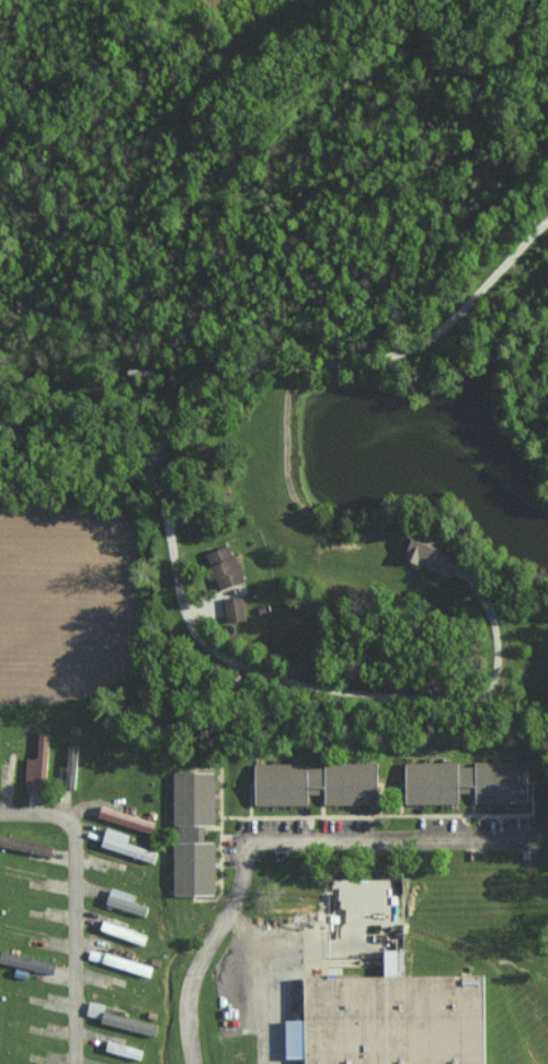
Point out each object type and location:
road: (269, 364)
building: (423, 552)
building: (219, 566)
building: (231, 609)
road: (294, 684)
building: (34, 765)
building: (68, 766)
building: (463, 782)
building: (308, 783)
building: (123, 818)
parking lot: (502, 824)
parking lot: (443, 825)
parking lot: (347, 826)
parking lot: (274, 827)
building: (191, 834)
road: (262, 844)
building: (123, 845)
parking lot: (231, 852)
building: (128, 901)
road: (73, 903)
building: (132, 933)
building: (28, 962)
building: (133, 964)
road: (271, 981)
building: (123, 1020)
building: (393, 1020)

